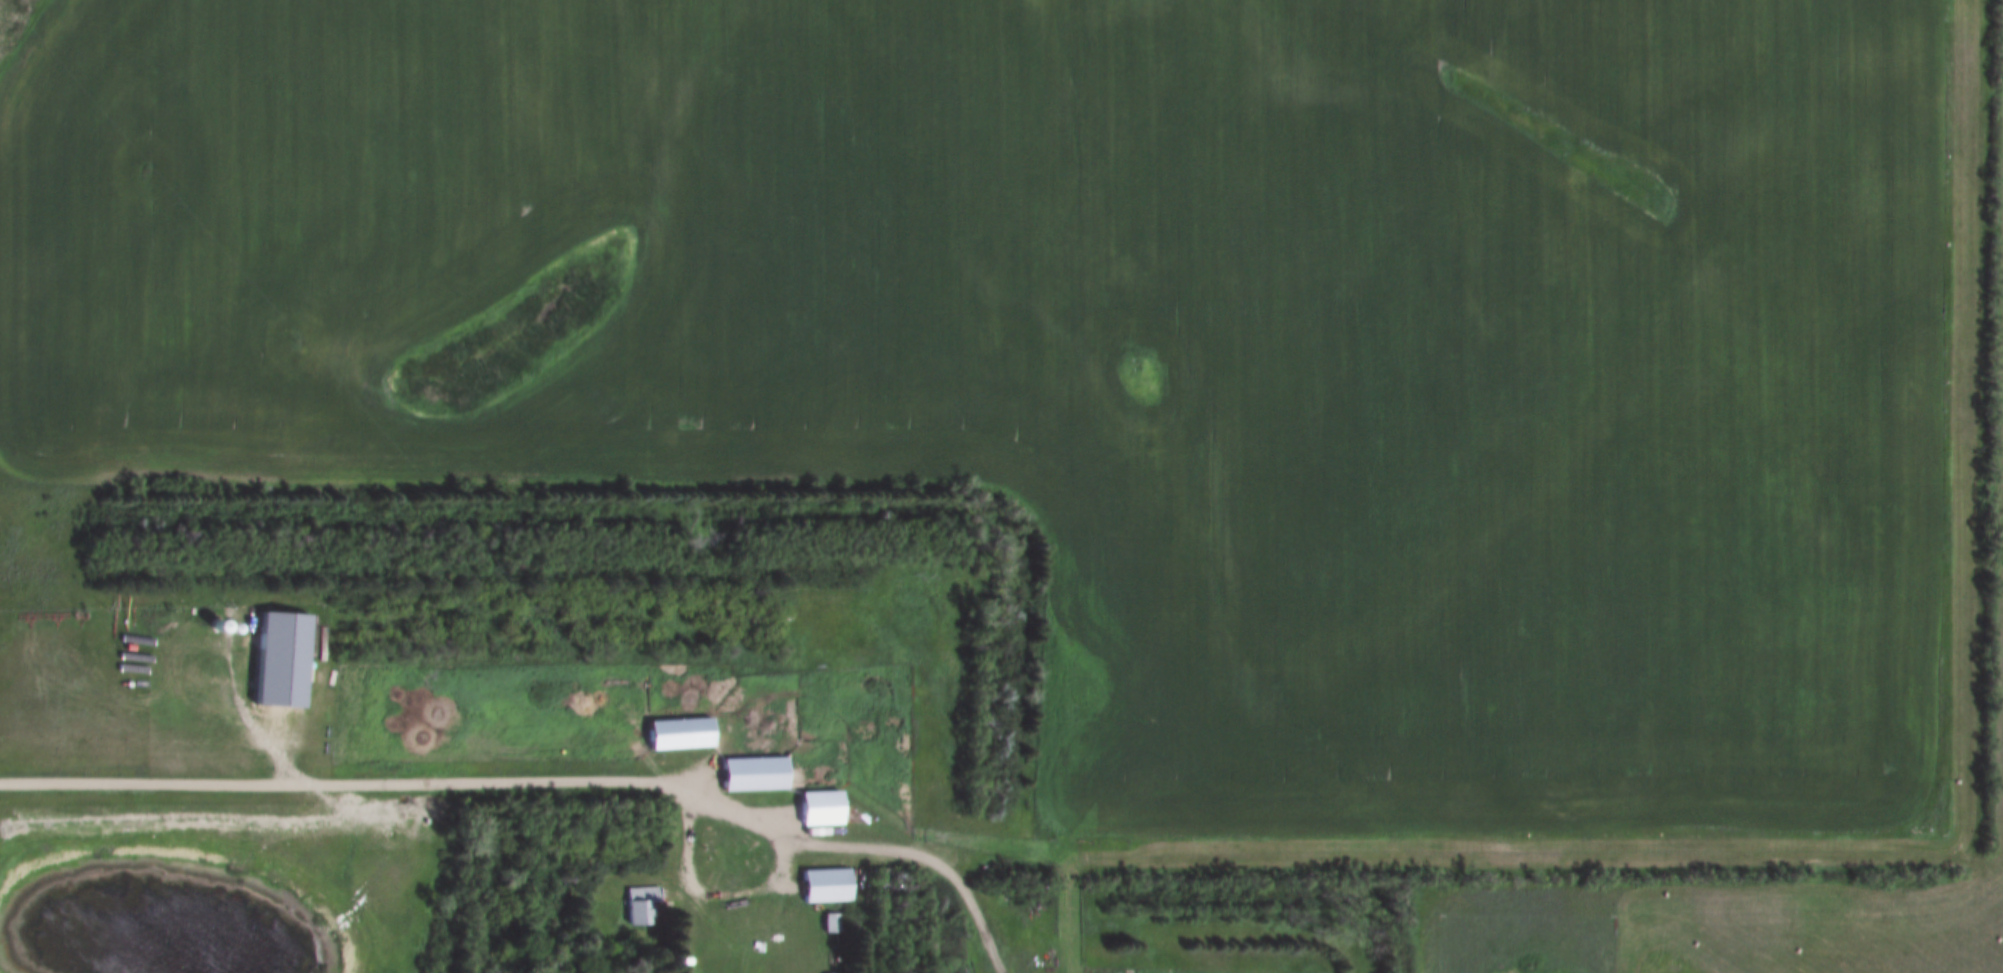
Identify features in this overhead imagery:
building: (678, 735)
building: (751, 775)
road: (340, 780)
building: (818, 809)
road: (928, 861)
road: (764, 886)
building: (826, 887)
building: (639, 908)
road: (1066, 923)

